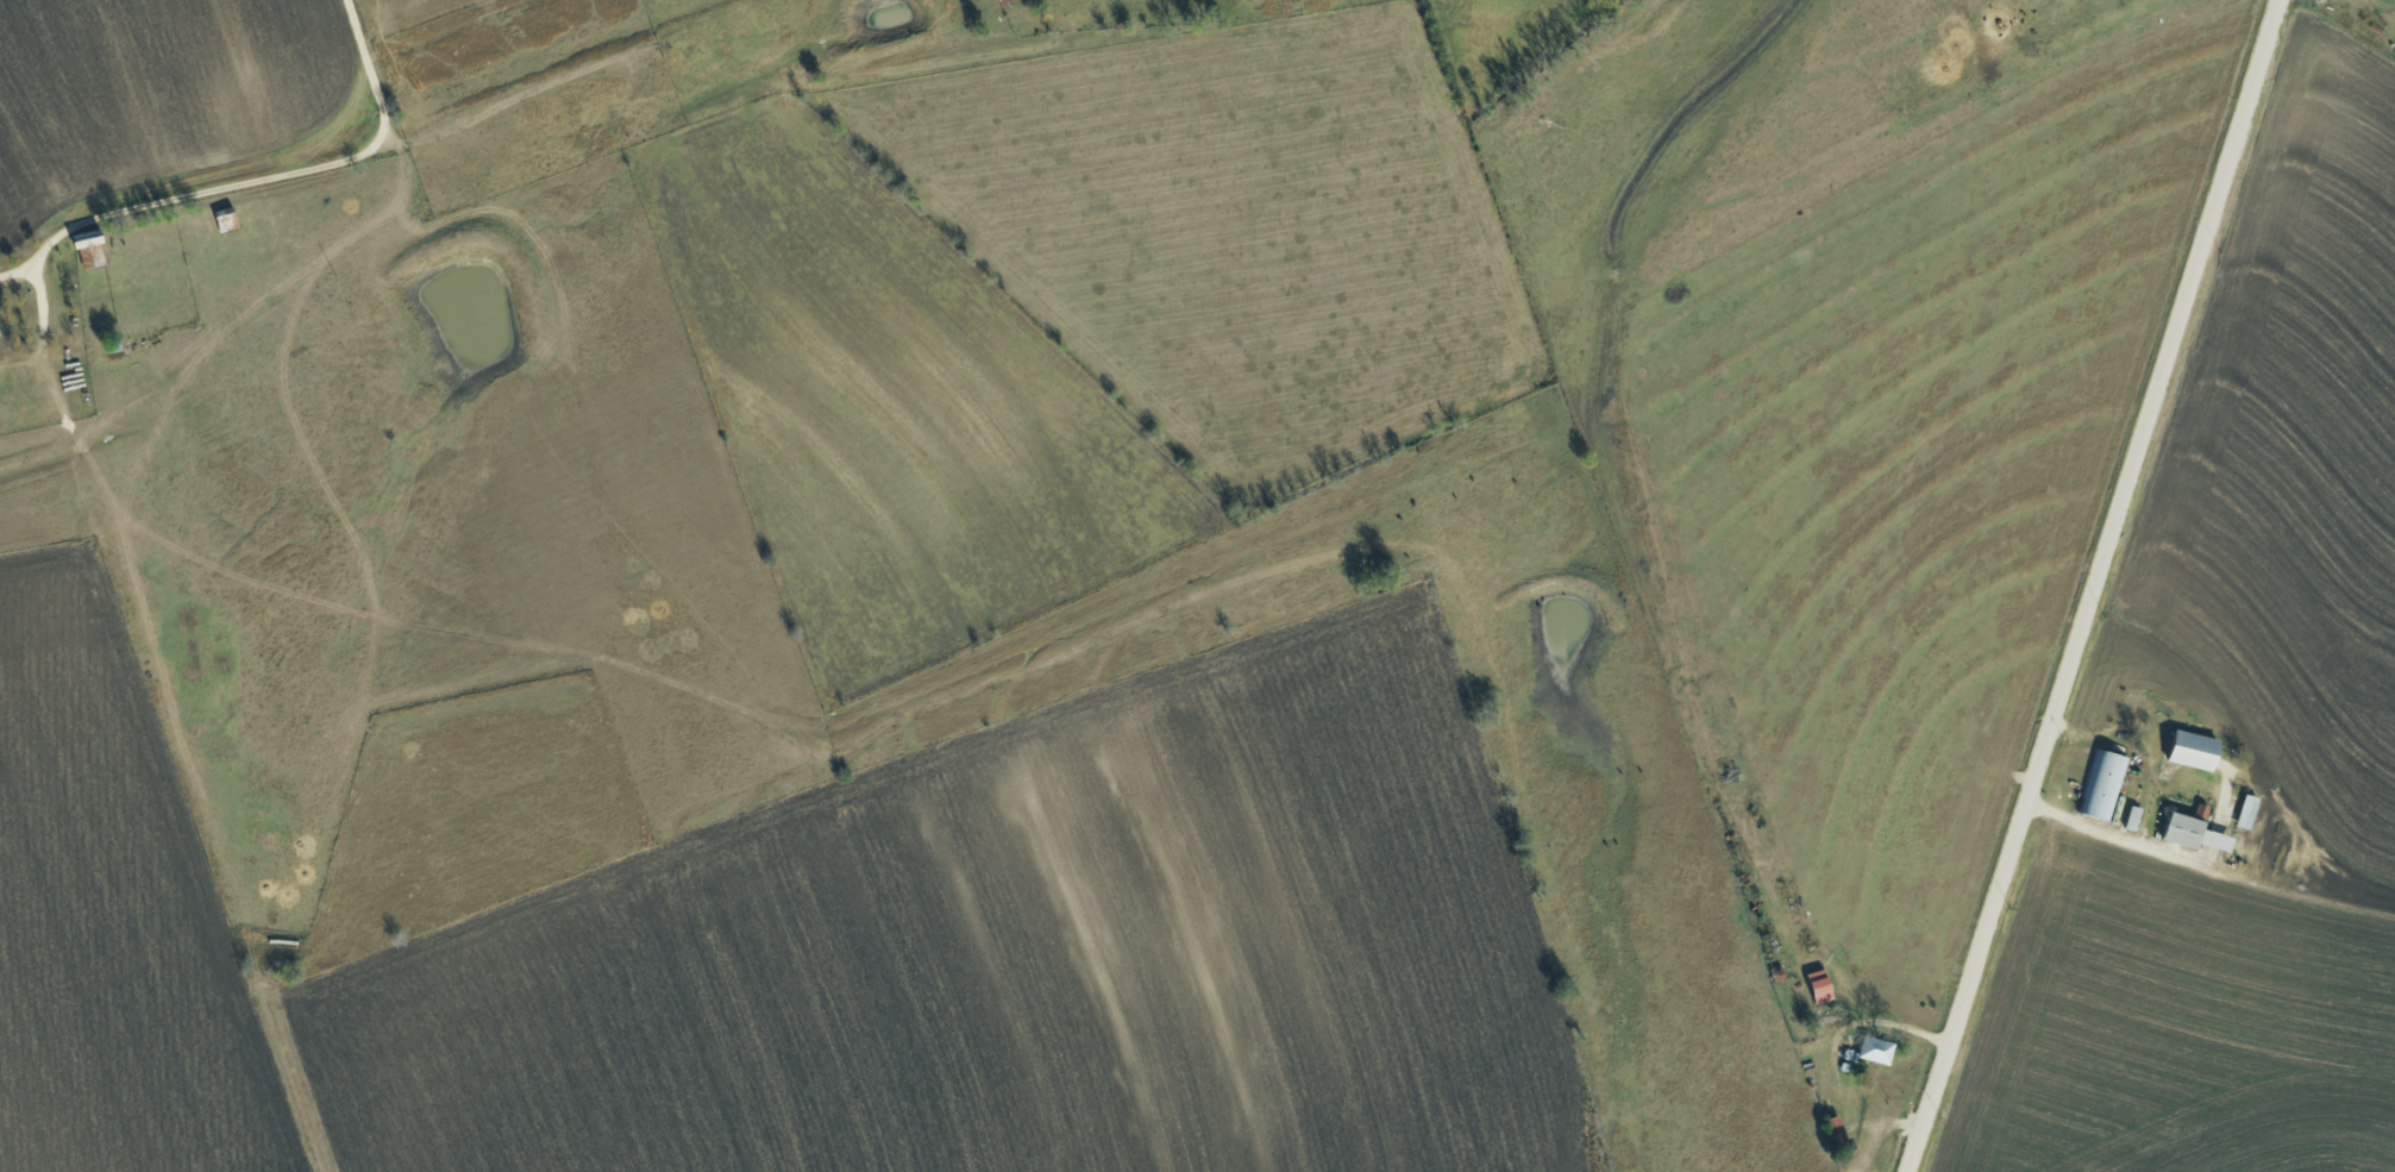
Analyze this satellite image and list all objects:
building: (1002, 1)
road: (258, 187)
building: (89, 249)
road: (2096, 585)
building: (2194, 750)
building: (2102, 784)
building: (2195, 833)
road: (2115, 834)
building: (1820, 985)
building: (1876, 1049)
building: (1836, 1127)

